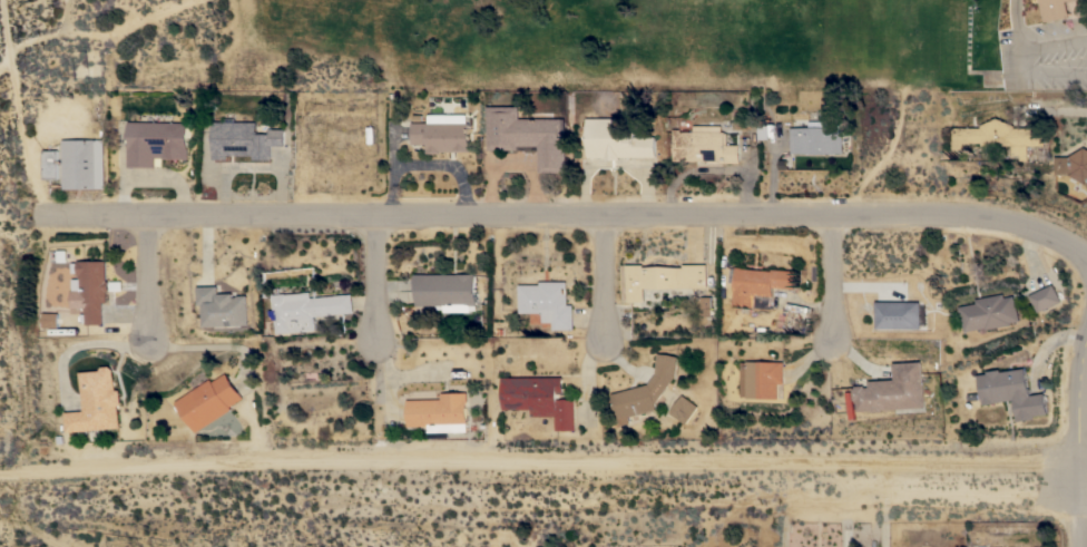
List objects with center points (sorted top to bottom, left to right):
building: (1055, 9)
park: (421, 38)
road: (1031, 48)
road: (1027, 59)
road: (1058, 70)
road: (1068, 111)
building: (443, 133)
building: (529, 135)
building: (998, 136)
building: (819, 137)
building: (244, 139)
building: (617, 139)
building: (156, 143)
building: (704, 145)
building: (82, 163)
building: (51, 164)
building: (1074, 165)
road: (566, 213)
road: (835, 274)
road: (154, 275)
road: (381, 275)
road: (608, 276)
building: (664, 277)
building: (760, 285)
building: (91, 287)
building: (447, 291)
building: (1045, 297)
building: (548, 302)
building: (223, 306)
building: (306, 309)
building: (990, 312)
building: (898, 315)
building: (51, 320)
road: (27, 342)
building: (761, 378)
building: (893, 389)
building: (646, 390)
building: (1012, 391)
building: (540, 398)
building: (98, 401)
building: (209, 401)
building: (683, 409)
building: (440, 411)
road: (542, 458)
road: (1086, 486)

